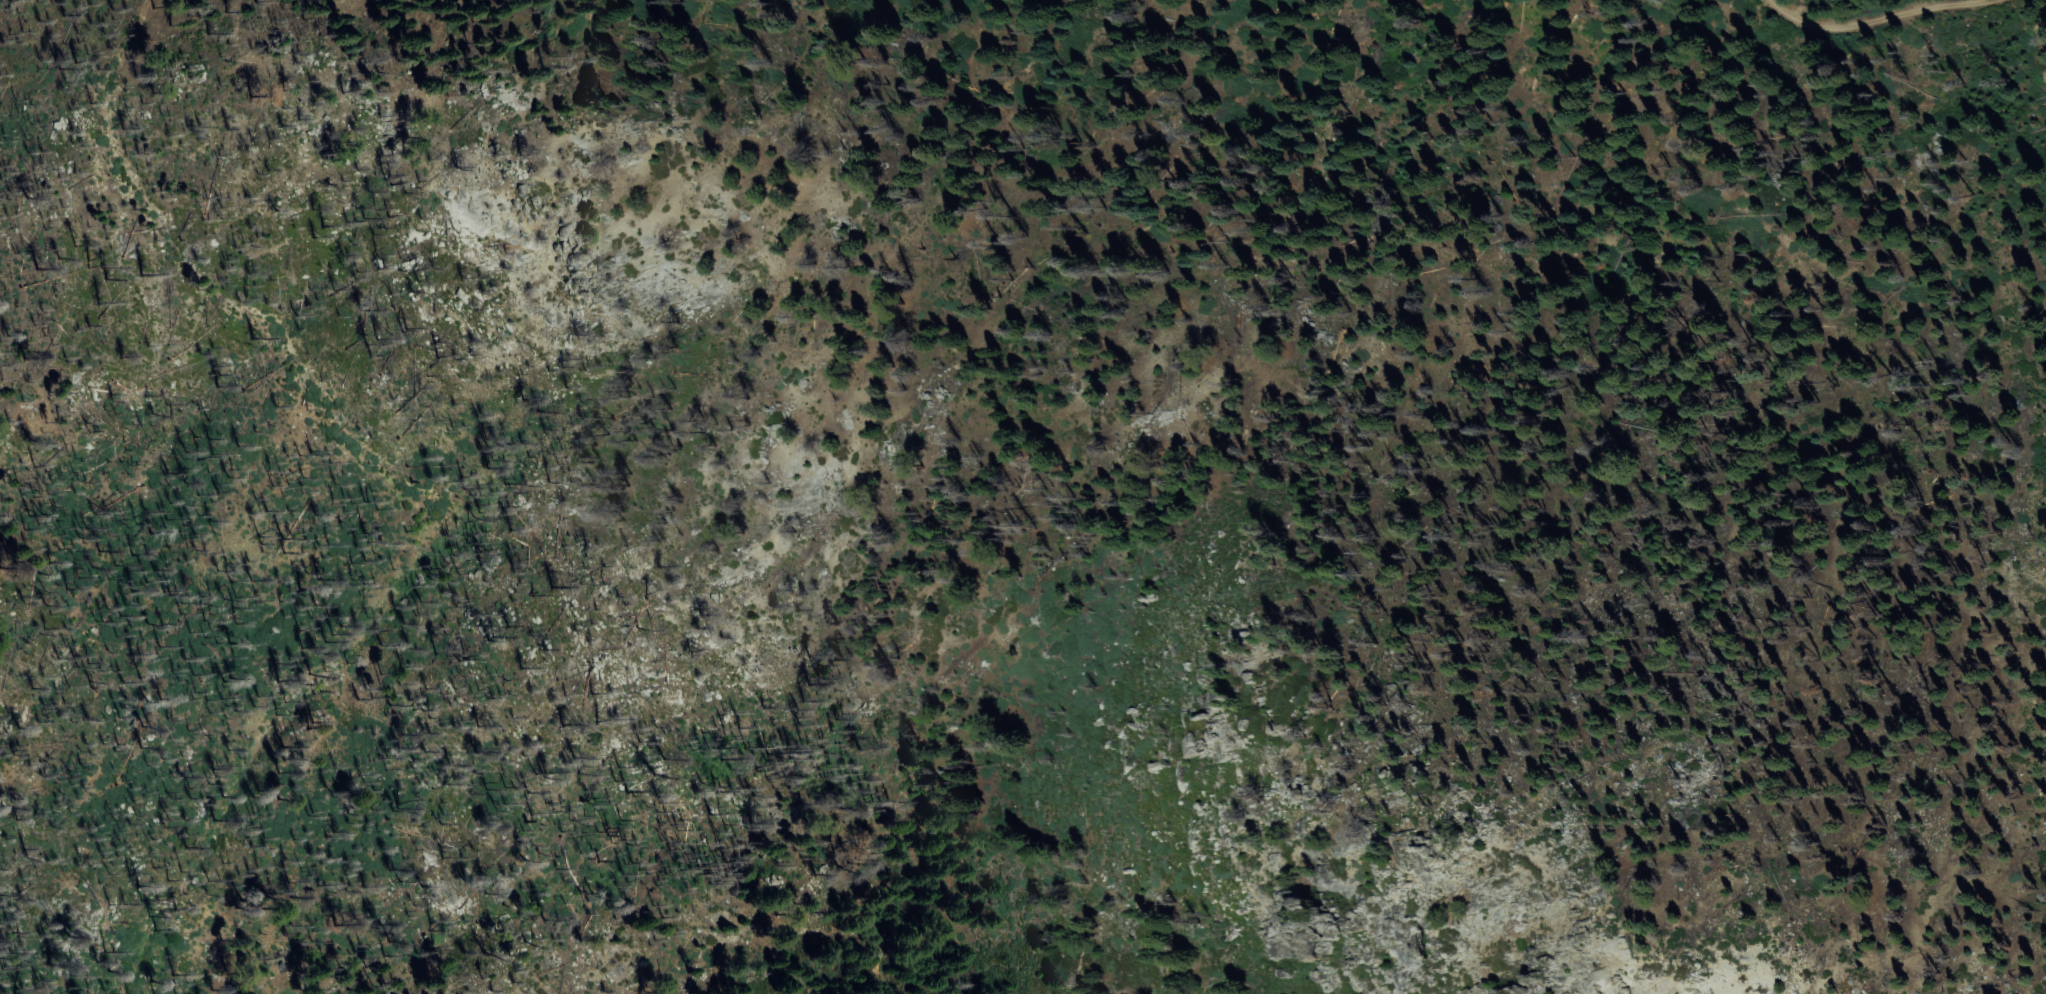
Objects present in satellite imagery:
road: (1881, 20)

